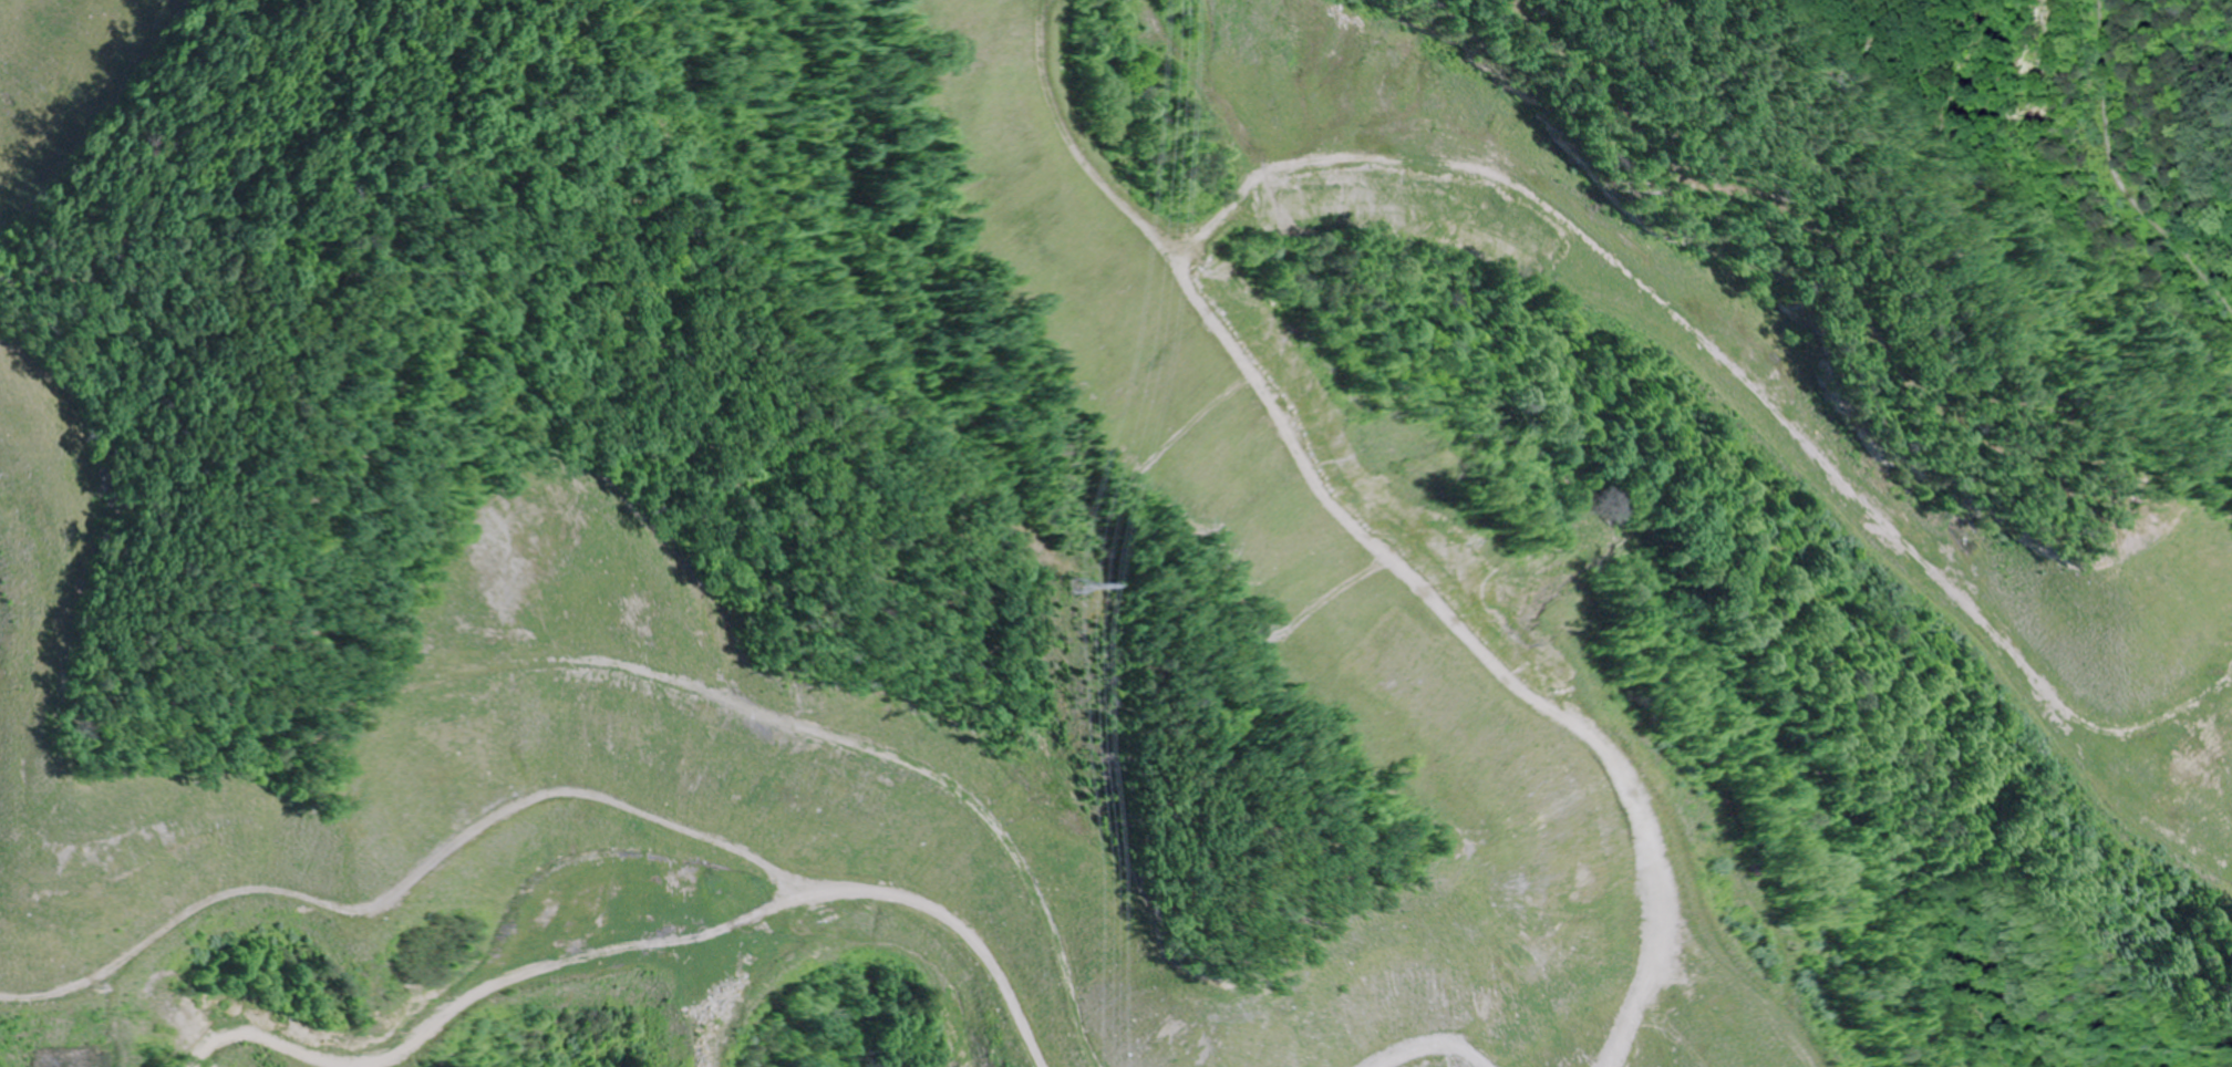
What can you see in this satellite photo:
road: (1872, 1063)

